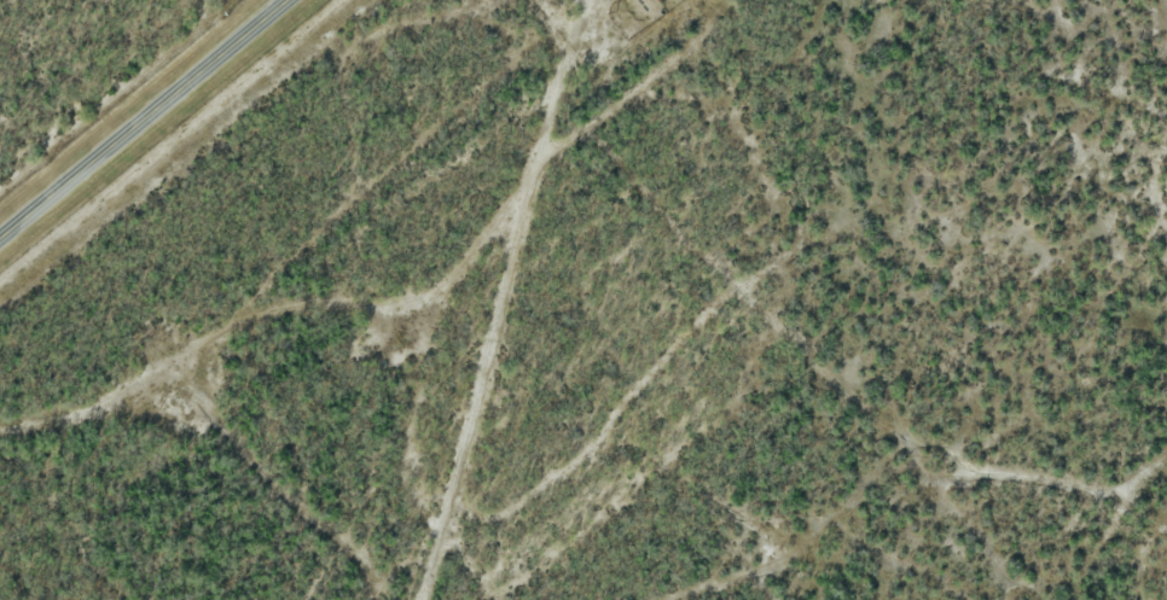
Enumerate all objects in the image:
road: (146, 122)

